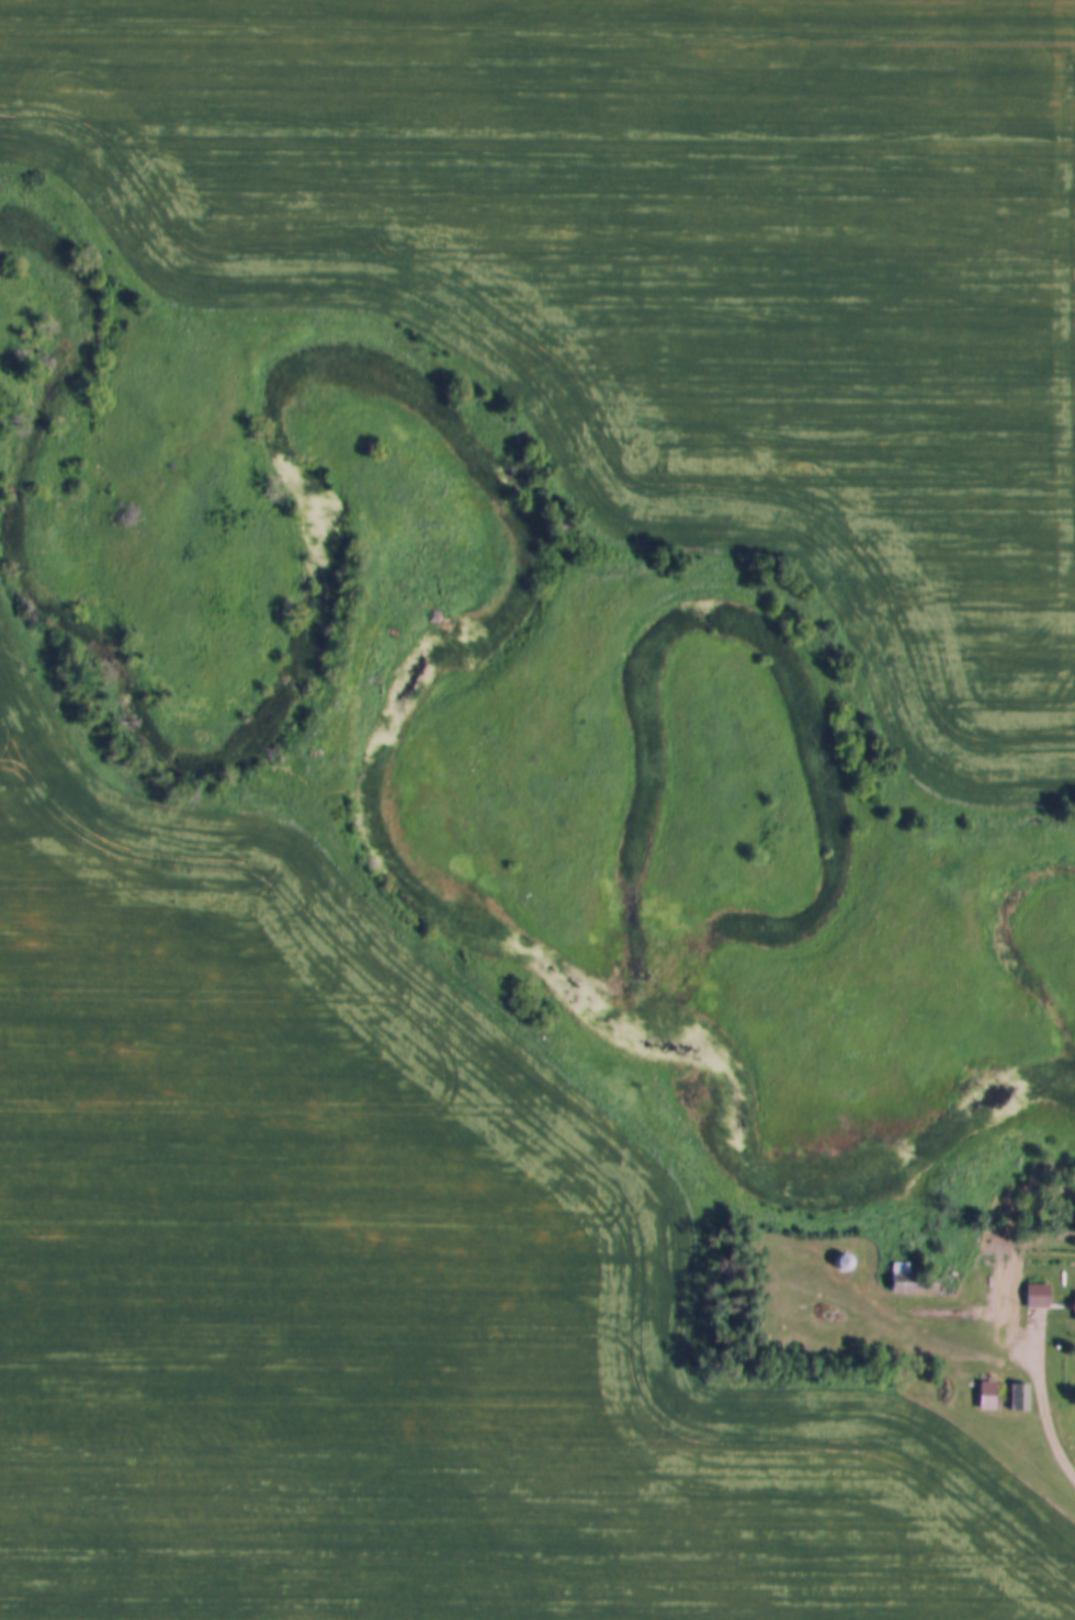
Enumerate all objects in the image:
building: (845, 1261)
building: (912, 1279)
building: (1038, 1294)
building: (1004, 1395)
road: (1048, 1405)

